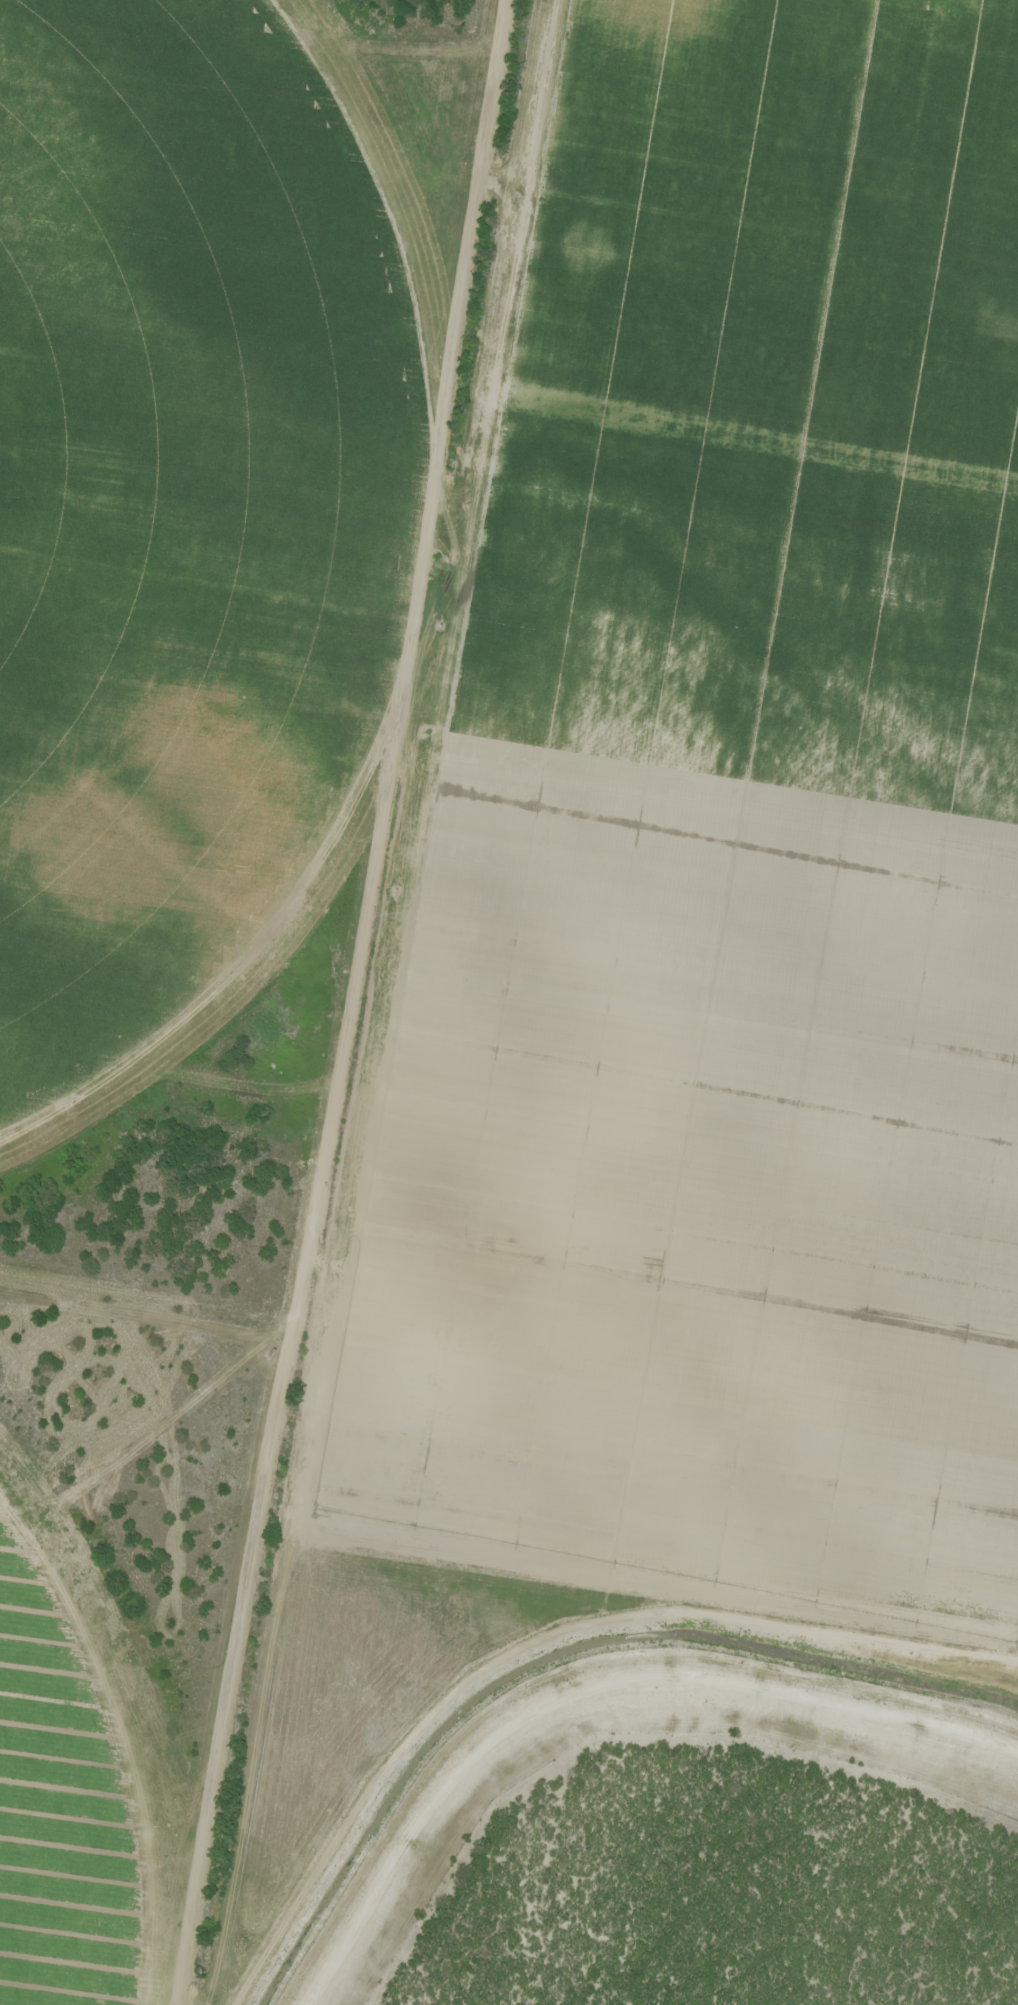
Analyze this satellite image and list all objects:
road: (342, 1000)

